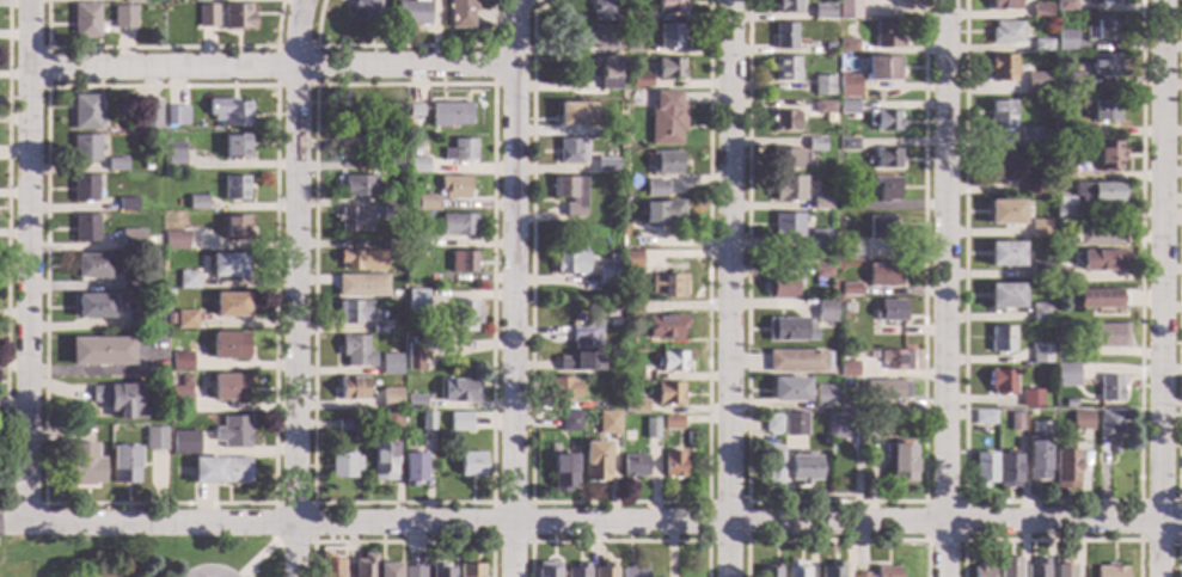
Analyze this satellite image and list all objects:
building: (133, 0)
building: (202, 0)
building: (1103, 1)
building: (1004, 5)
building: (669, 6)
building: (786, 6)
building: (1065, 6)
building: (847, 10)
building: (362, 11)
building: (602, 11)
building: (1040, 11)
building: (822, 12)
building: (411, 13)
building: (638, 13)
building: (460, 14)
building: (206, 16)
building: (122, 17)
building: (235, 17)
building: (85, 22)
building: (1104, 29)
building: (1005, 32)
building: (886, 35)
building: (669, 36)
building: (784, 36)
building: (601, 38)
building: (1065, 39)
road: (400, 45)
building: (633, 45)
building: (847, 45)
building: (1041, 45)
road: (275, 48)
building: (827, 48)
road: (491, 65)
building: (1103, 66)
road: (306, 68)
building: (669, 68)
building: (883, 68)
building: (1003, 68)
building: (785, 69)
building: (606, 72)
building: (639, 80)
building: (1072, 80)
building: (1039, 84)
building: (822, 86)
building: (849, 86)
building: (822, 108)
building: (847, 108)
building: (228, 111)
building: (1103, 111)
building: (84, 112)
building: (412, 112)
building: (575, 113)
building: (147, 115)
building: (448, 115)
building: (1002, 115)
building: (174, 116)
building: (666, 118)
building: (784, 119)
building: (384, 121)
building: (884, 121)
building: (349, 122)
building: (348, 133)
building: (1045, 133)
building: (1071, 133)
building: (1058, 135)
building: (1029, 137)
building: (390, 140)
building: (814, 145)
building: (847, 145)
building: (235, 146)
building: (84, 149)
building: (459, 151)
building: (570, 151)
building: (414, 153)
building: (173, 155)
building: (1108, 156)
building: (887, 158)
building: (783, 159)
building: (390, 160)
building: (665, 162)
building: (114, 165)
building: (146, 165)
building: (416, 165)
building: (604, 165)
building: (1003, 165)
building: (1062, 171)
building: (356, 185)
building: (453, 186)
building: (1033, 186)
building: (82, 189)
building: (234, 189)
building: (655, 189)
building: (786, 189)
building: (886, 189)
building: (1048, 190)
building: (1097, 191)
building: (568, 194)
building: (197, 202)
building: (421, 203)
building: (849, 203)
building: (125, 204)
building: (819, 204)
building: (390, 208)
building: (1064, 209)
building: (660, 211)
building: (1005, 213)
building: (353, 219)
building: (786, 225)
building: (457, 226)
building: (85, 227)
building: (882, 227)
building: (234, 228)
building: (1040, 229)
building: (1098, 235)
building: (816, 239)
building: (131, 240)
building: (174, 240)
building: (415, 240)
building: (147, 243)
building: (642, 244)
building: (392, 248)
building: (851, 248)
building: (1004, 253)
road: (1177, 253)
building: (430, 257)
building: (1102, 259)
road: (26, 260)
building: (360, 260)
building: (627, 260)
building: (460, 262)
building: (569, 263)
building: (227, 265)
building: (90, 266)
building: (821, 270)
building: (1039, 271)
building: (606, 272)
building: (882, 275)
building: (409, 276)
building: (1060, 276)
building: (130, 280)
building: (171, 281)
building: (186, 281)
building: (360, 286)
building: (666, 287)
building: (779, 287)
road: (295, 288)
road: (727, 288)
road: (945, 288)
road: (1163, 288)
building: (849, 290)
building: (399, 296)
building: (1004, 296)
building: (415, 300)
building: (1097, 300)
building: (231, 305)
building: (93, 306)
building: (846, 307)
building: (630, 311)
building: (889, 311)
building: (351, 312)
building: (825, 312)
building: (1040, 312)
building: (463, 315)
building: (136, 319)
building: (167, 319)
building: (185, 320)
road: (510, 321)
building: (612, 323)
building: (663, 326)
building: (376, 329)
building: (788, 330)
building: (584, 336)
building: (1104, 336)
building: (1000, 339)
building: (439, 344)
building: (228, 346)
building: (99, 350)
building: (1060, 350)
building: (355, 351)
building: (1040, 354)
building: (412, 355)
building: (621, 358)
building: (180, 361)
building: (795, 361)
building: (894, 361)
building: (580, 362)
building: (669, 362)
building: (388, 364)
building: (847, 369)
building: (1065, 375)
building: (185, 380)
building: (1000, 381)
building: (229, 387)
building: (351, 388)
building: (1108, 388)
building: (561, 389)
building: (788, 389)
building: (884, 389)
building: (459, 391)
building: (667, 393)
building: (821, 395)
building: (390, 398)
building: (120, 399)
building: (1029, 399)
building: (414, 401)
building: (840, 403)
building: (1068, 403)
building: (180, 404)
building: (633, 406)
building: (1030, 412)
building: (984, 418)
building: (425, 421)
building: (1082, 421)
building: (390, 422)
building: (458, 422)
building: (569, 422)
building: (670, 422)
building: (876, 422)
building: (1015, 422)
building: (606, 423)
building: (771, 424)
building: (792, 424)
building: (344, 426)
building: (843, 426)
building: (649, 428)
building: (232, 431)
building: (1107, 432)
building: (155, 440)
building: (184, 443)
building: (1114, 450)
building: (1036, 458)
building: (381, 461)
building: (594, 461)
building: (84, 464)
building: (123, 464)
building: (672, 464)
building: (900, 464)
building: (343, 465)
building: (470, 465)
building: (632, 465)
building: (771, 465)
building: (802, 467)
building: (410, 468)
building: (1064, 468)
building: (220, 469)
building: (982, 469)
building: (1008, 469)
building: (562, 472)
road: (832, 502)
road: (961, 502)
road: (1051, 502)
road: (1177, 502)
road: (311, 503)
road: (528, 503)
road: (608, 503)
road: (743, 503)
road: (310, 504)
road: (12, 521)
road: (602, 523)
road: (834, 541)
road: (1049, 541)
road: (399, 542)
road: (617, 542)
park: (140, 555)
road: (1177, 557)
road: (252, 558)
building: (363, 565)
building: (329, 566)
building: (1008, 567)
building: (1035, 569)
building: (1060, 569)
building: (386, 570)
building: (439, 570)
building: (468, 570)
building: (546, 570)
building: (602, 570)
building: (794, 570)
building: (829, 570)
building: (576, 571)
building: (632, 571)
building: (981, 571)
building: (1110, 571)
building: (411, 572)
building: (767, 572)
building: (884, 572)
building: (859, 575)
building: (106, 576)

